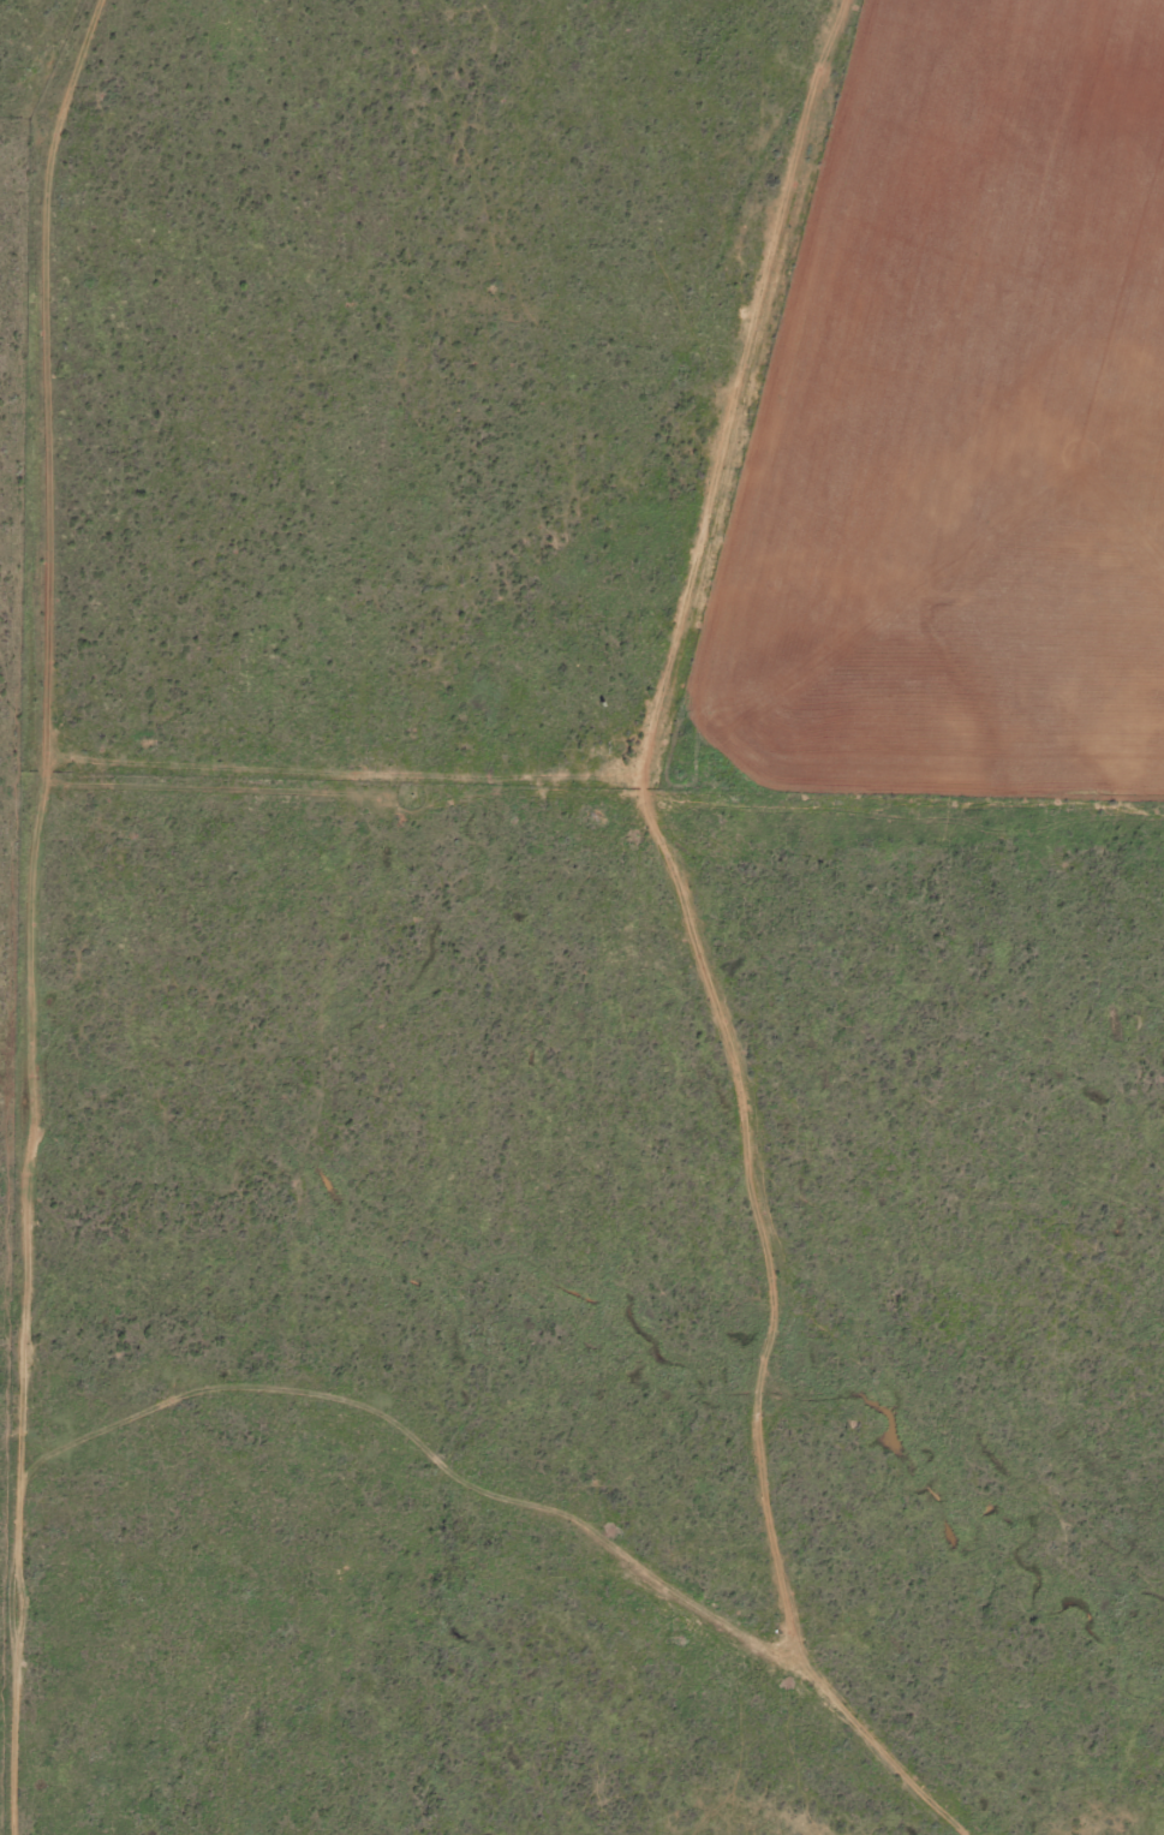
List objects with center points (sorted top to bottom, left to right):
road: (722, 972)

